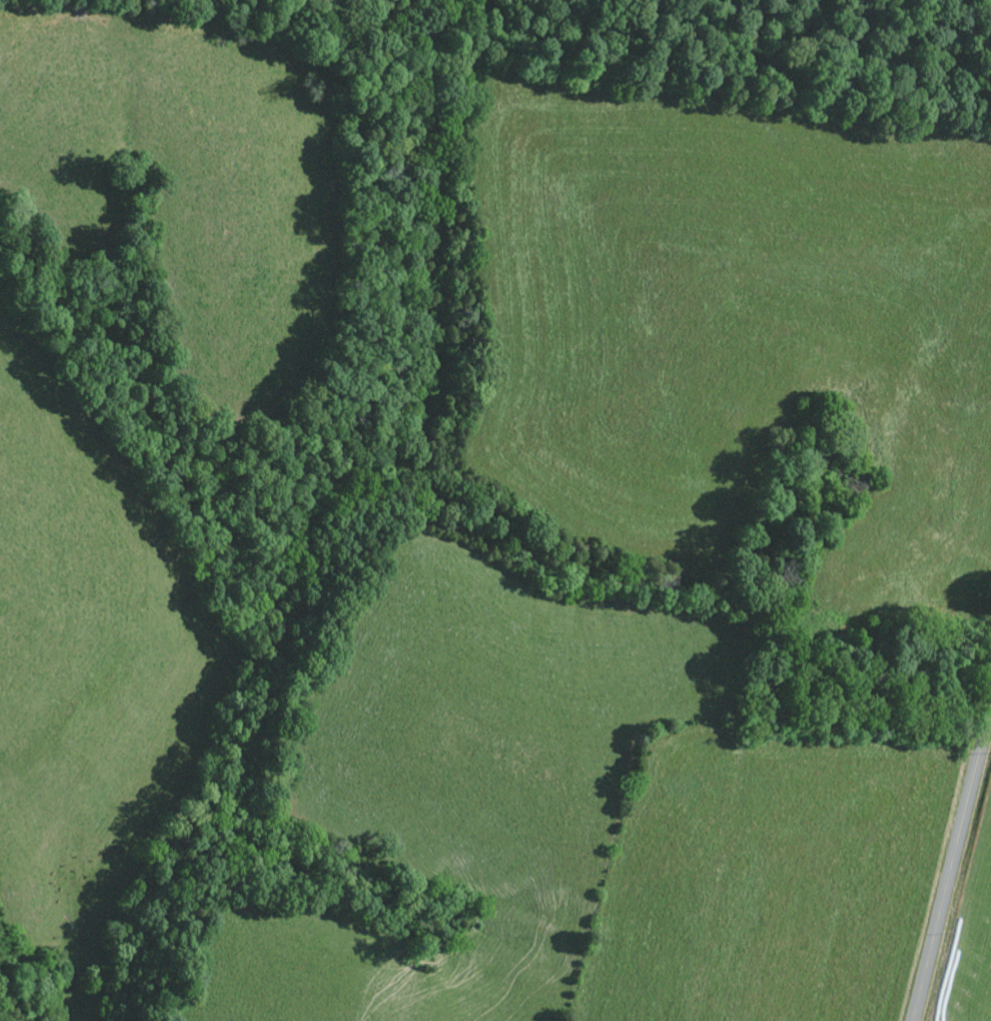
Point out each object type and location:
road: (952, 867)

